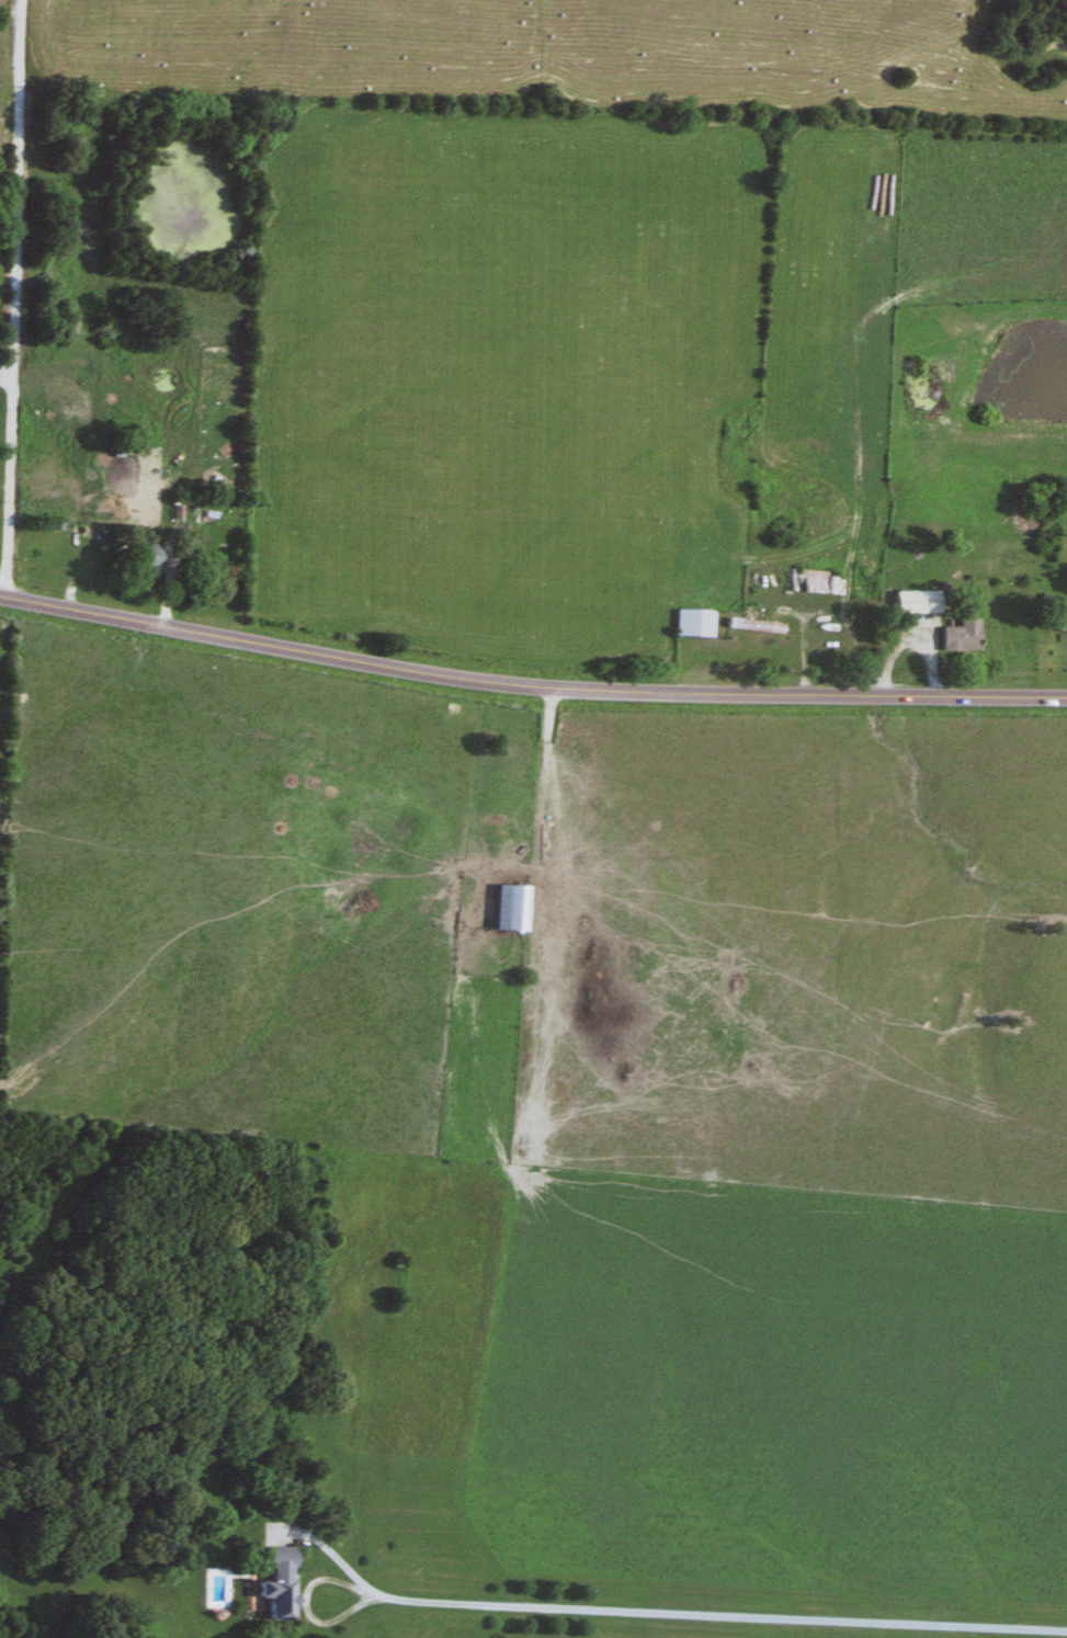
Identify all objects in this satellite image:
road: (13, 297)
building: (141, 561)
building: (811, 583)
building: (912, 603)
building: (1060, 623)
building: (688, 624)
building: (750, 627)
building: (957, 634)
road: (530, 685)
building: (507, 910)
building: (271, 1582)
road: (667, 1613)

